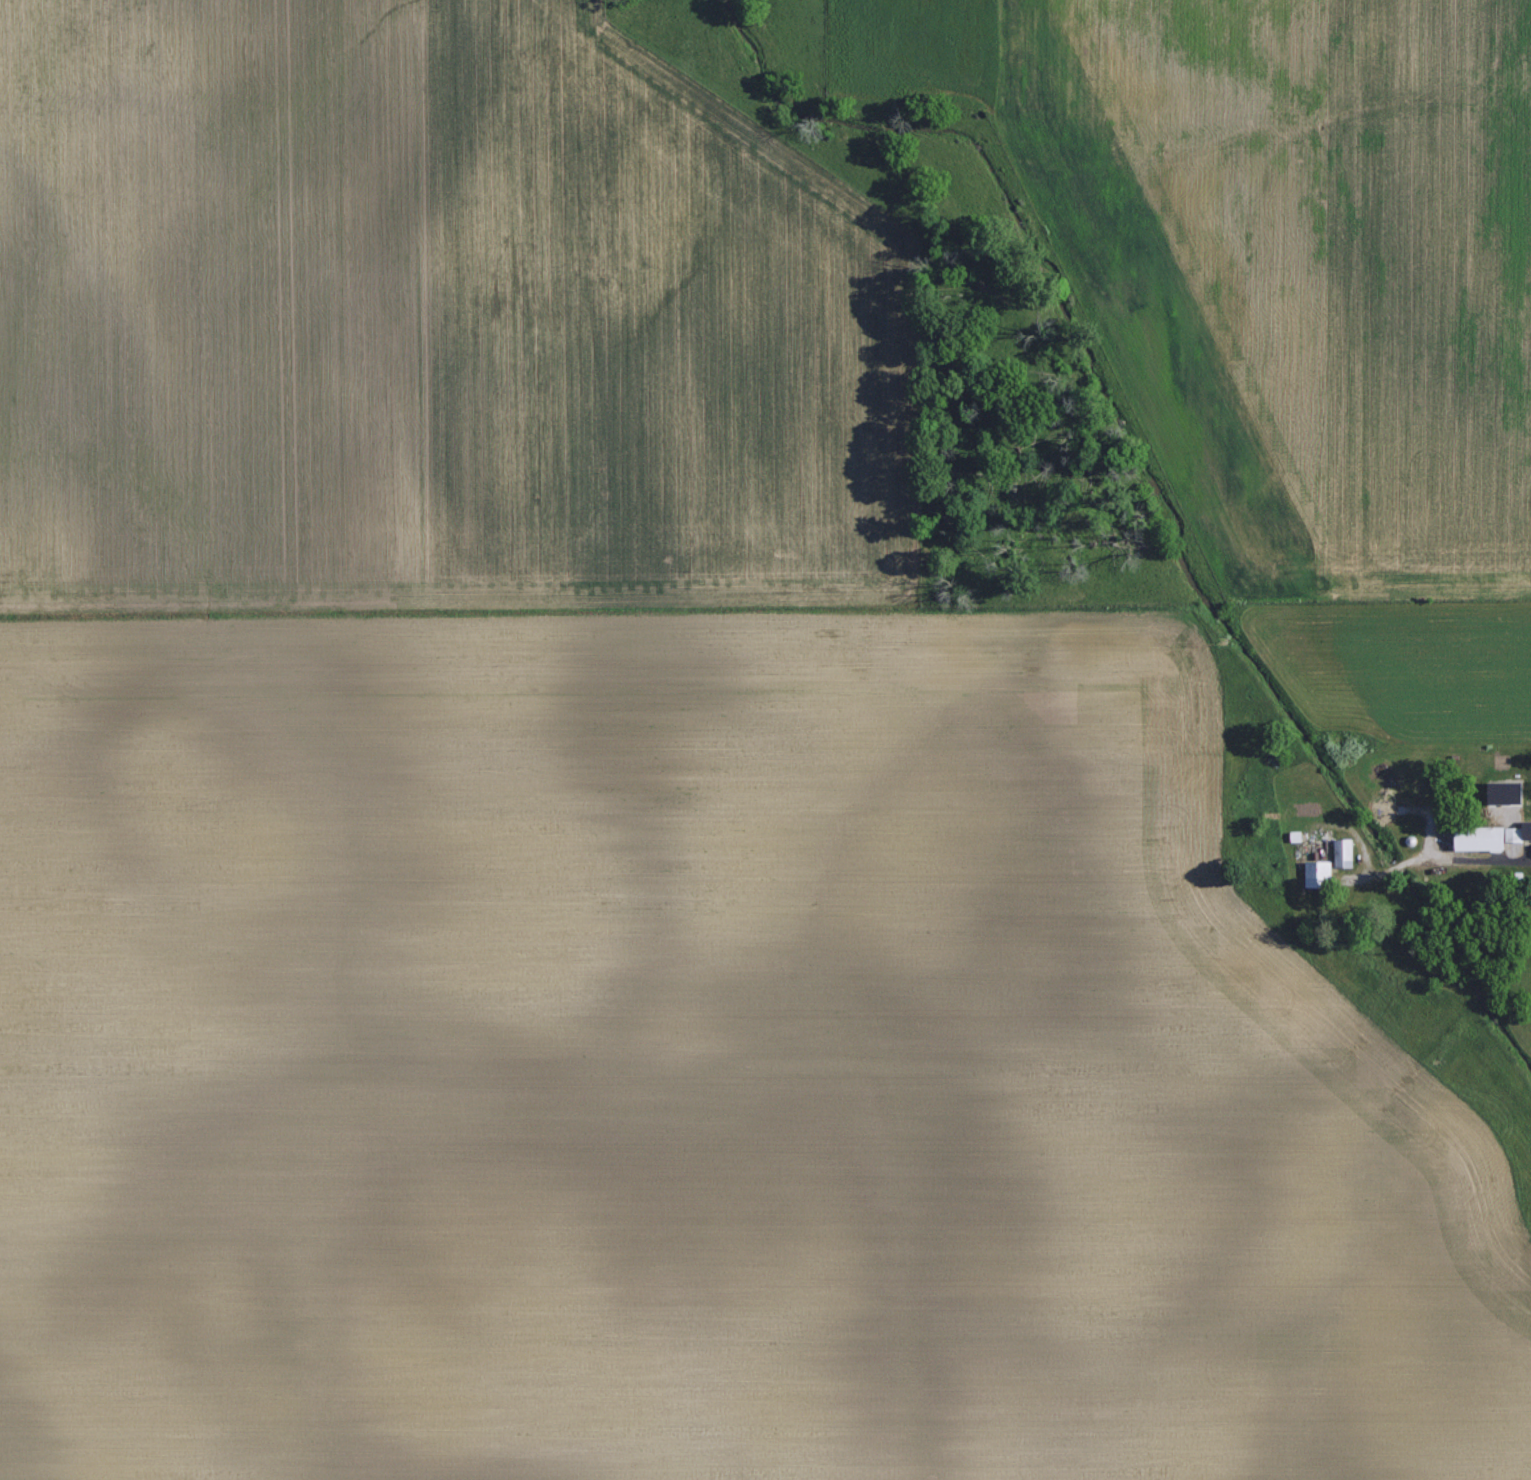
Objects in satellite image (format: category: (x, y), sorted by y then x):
building: (1509, 792)
building: (1515, 834)
building: (1483, 839)
building: (1345, 852)
building: (1320, 874)

